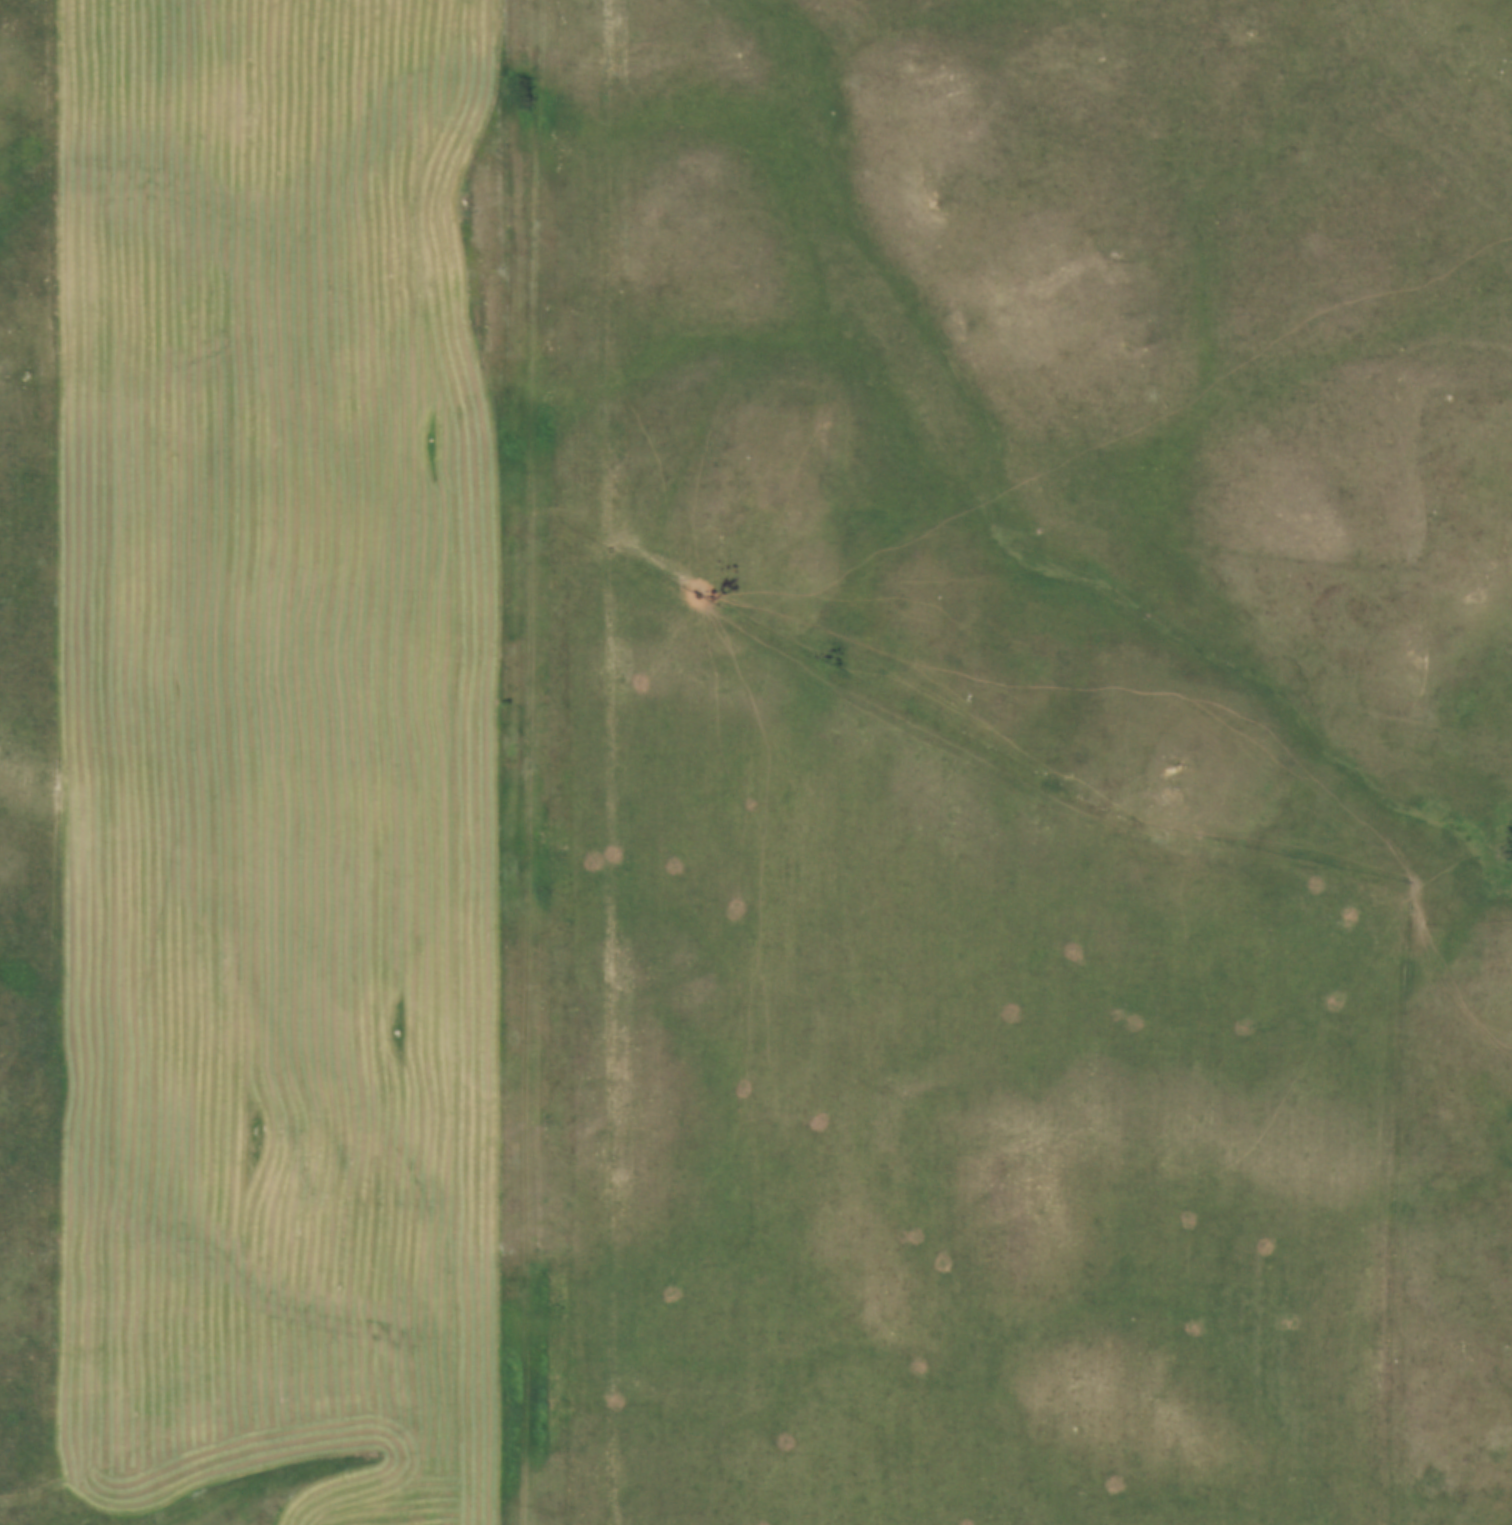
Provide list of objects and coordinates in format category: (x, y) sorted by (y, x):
road: (60, 550)
road: (517, 762)

